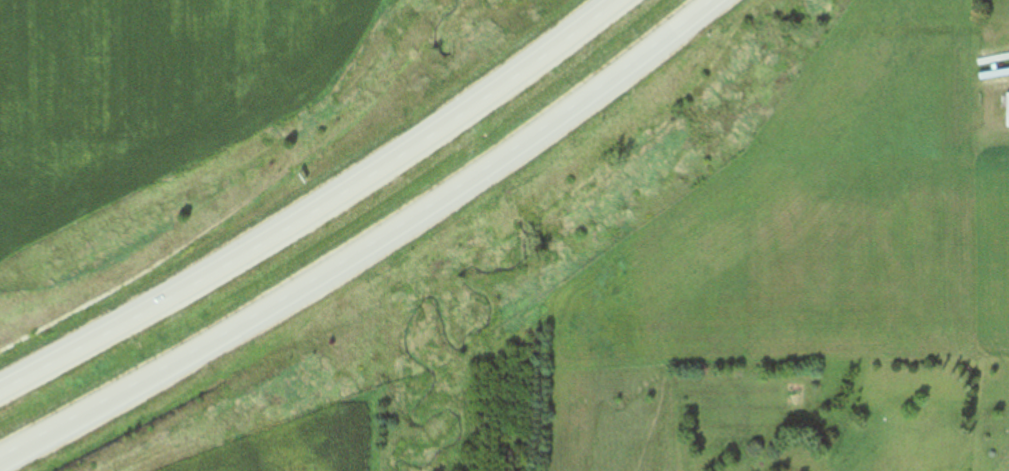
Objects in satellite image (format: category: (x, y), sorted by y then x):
road: (316, 209)
road: (366, 247)

